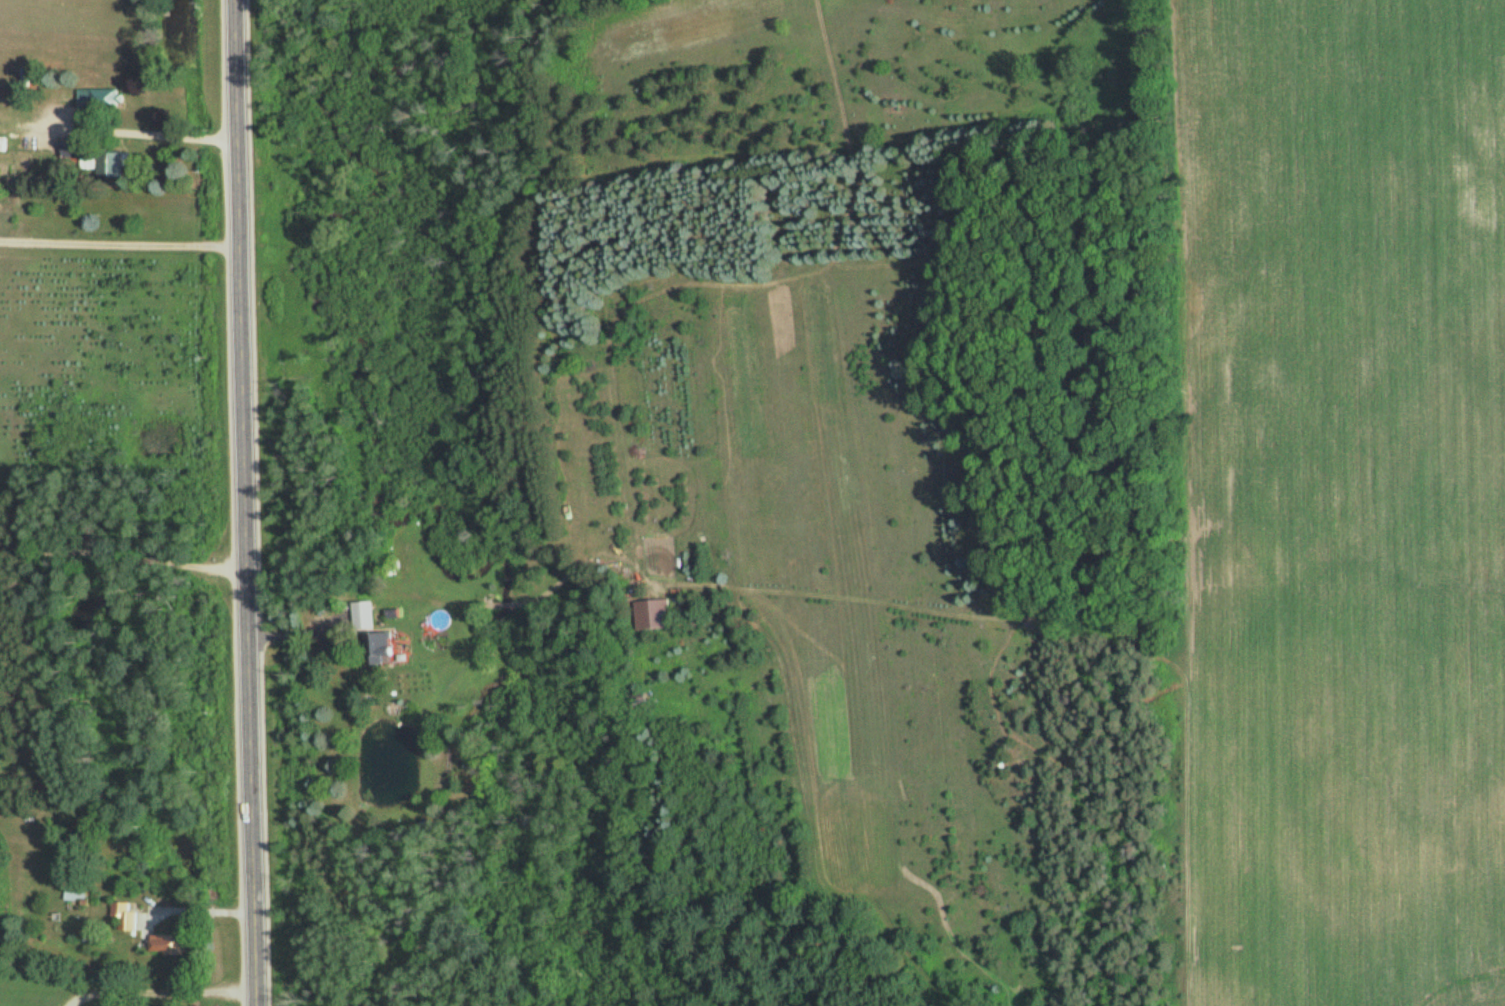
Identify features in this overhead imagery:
building: (67, 96)
building: (90, 98)
building: (2, 143)
building: (71, 148)
building: (115, 163)
road: (120, 388)
road: (243, 503)
building: (377, 640)
building: (127, 917)
building: (172, 944)

